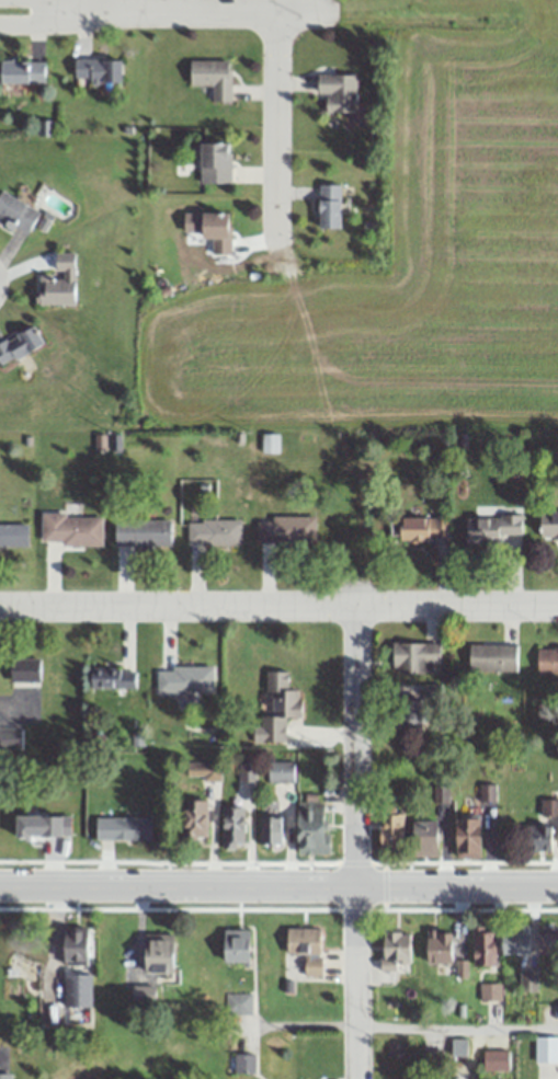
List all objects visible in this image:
road: (41, 5)
road: (190, 14)
road: (27, 24)
building: (96, 70)
building: (22, 71)
building: (213, 78)
building: (339, 92)
road: (273, 129)
building: (215, 163)
building: (329, 206)
building: (16, 214)
building: (217, 231)
crop: (405, 260)
building: (58, 282)
building: (19, 345)
building: (270, 443)
building: (548, 524)
building: (491, 527)
building: (423, 528)
building: (71, 529)
building: (285, 529)
building: (143, 533)
building: (13, 535)
road: (278, 606)
building: (492, 657)
building: (415, 658)
building: (547, 662)
building: (24, 670)
building: (113, 678)
building: (185, 679)
building: (277, 710)
building: (410, 715)
building: (10, 736)
road: (355, 744)
building: (204, 770)
building: (281, 770)
building: (247, 771)
building: (486, 793)
building: (196, 823)
building: (234, 826)
building: (312, 827)
building: (124, 828)
building: (271, 830)
building: (391, 831)
building: (468, 837)
building: (425, 838)
building: (539, 838)
road: (278, 883)
building: (547, 940)
building: (516, 941)
building: (77, 944)
building: (238, 944)
building: (306, 946)
building: (440, 946)
building: (485, 948)
building: (395, 950)
building: (160, 952)
road: (355, 980)
building: (527, 980)
building: (79, 988)
building: (489, 991)
building: (145, 994)
building: (237, 1002)
road: (456, 1029)
building: (458, 1046)
building: (545, 1048)
building: (494, 1059)
building: (243, 1063)
building: (5, 1076)

